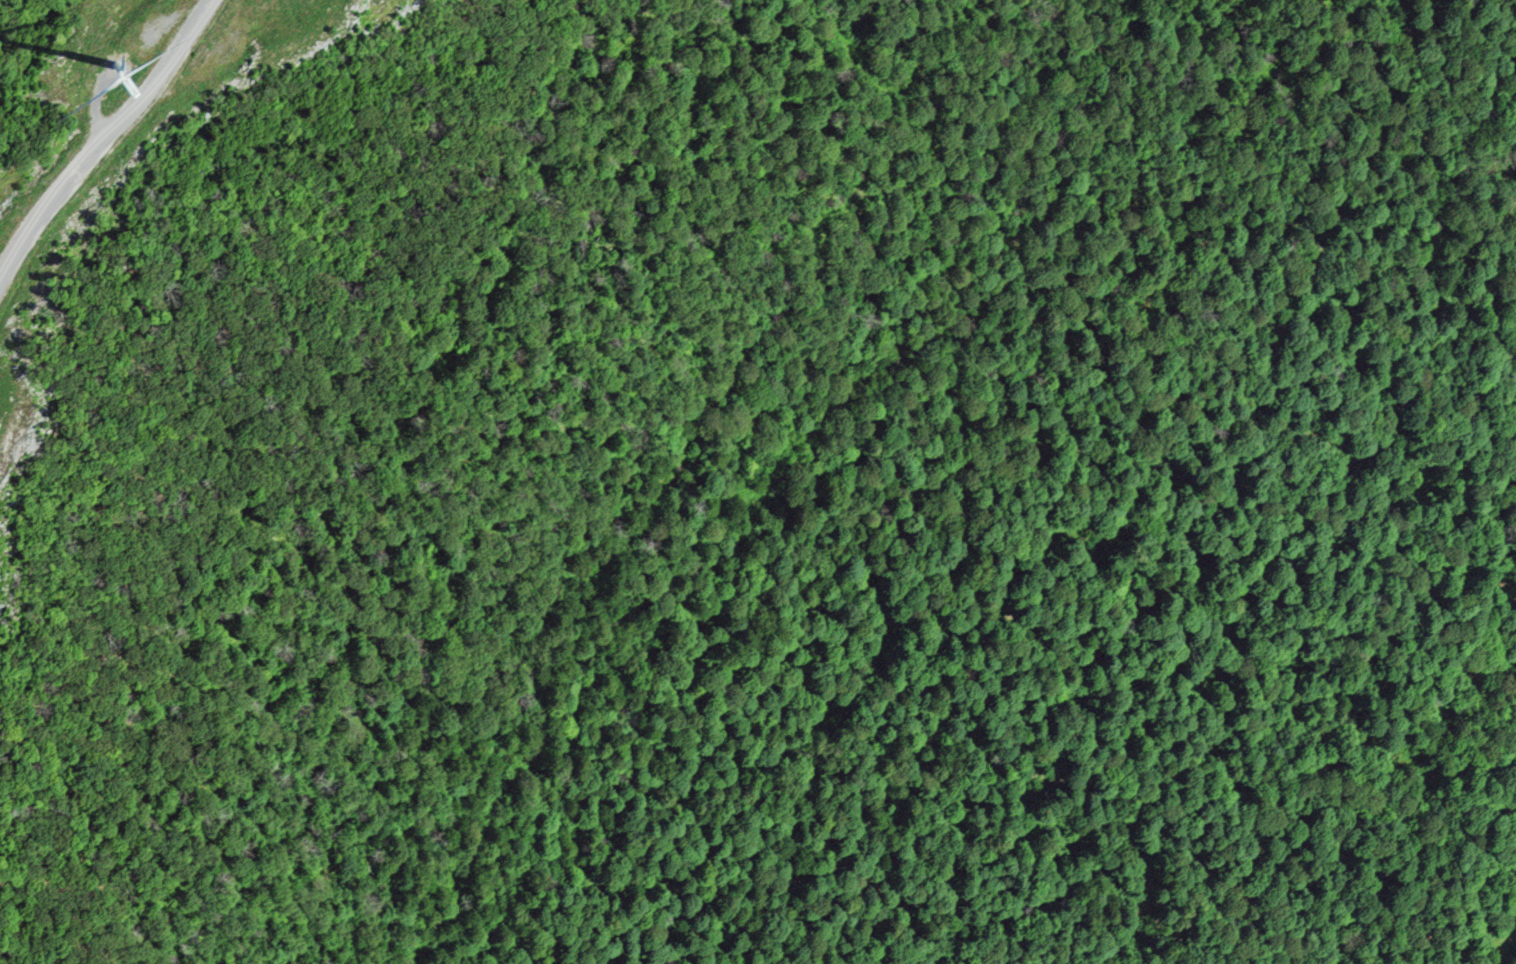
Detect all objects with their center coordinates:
wind turbine: (117, 63)
road: (110, 140)
road: (1502, 941)

